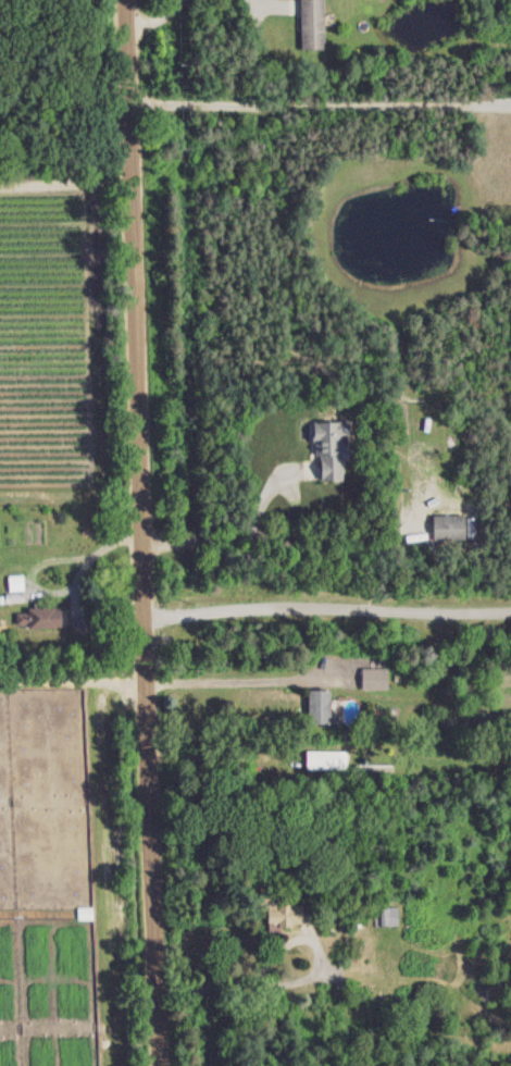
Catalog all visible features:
road: (271, 1)
road: (155, 20)
building: (310, 24)
road: (319, 101)
building: (328, 448)
building: (447, 528)
road: (139, 533)
road: (219, 537)
road: (326, 606)
building: (38, 618)
building: (373, 679)
road: (210, 681)
building: (316, 706)
building: (326, 760)
building: (279, 913)
building: (388, 917)
road: (249, 986)

